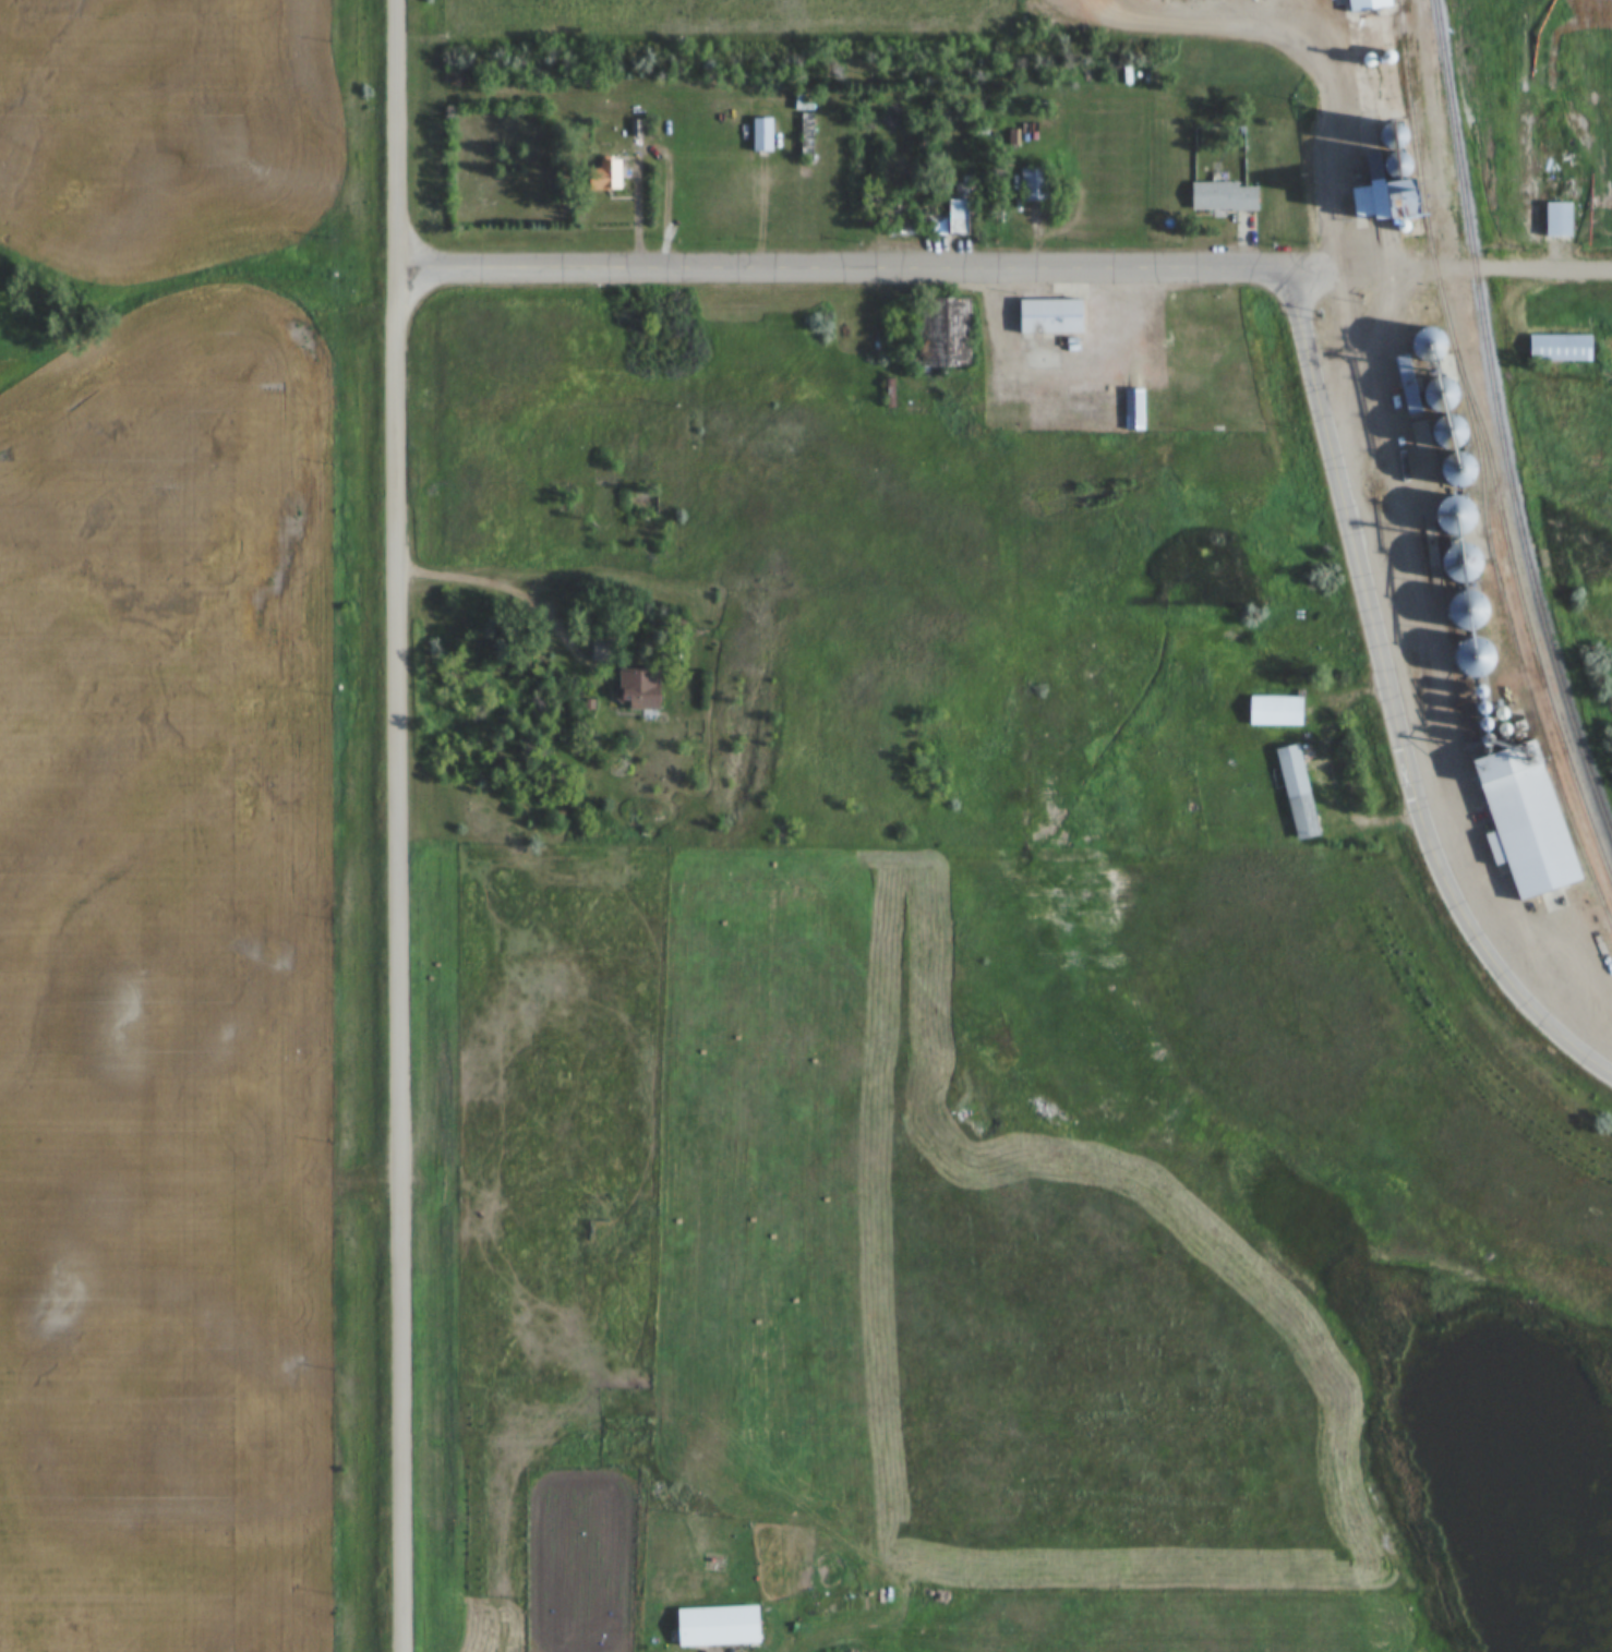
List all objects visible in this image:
building: (1367, 5)
road: (1211, 25)
road: (1318, 26)
building: (806, 131)
building: (981, 131)
building: (762, 134)
road: (1335, 160)
building: (609, 176)
building: (1035, 185)
building: (963, 190)
building: (1225, 196)
building: (1371, 201)
building: (1412, 203)
building: (959, 216)
building: (1559, 219)
building: (900, 220)
road: (843, 269)
road: (1451, 269)
building: (1050, 316)
building: (951, 322)
railway: (1447, 322)
building: (1561, 348)
road: (1063, 377)
building: (888, 394)
building: (1134, 409)
railway: (1500, 411)
building: (1465, 468)
building: (1507, 551)
building: (1466, 563)
road: (500, 589)
building: (639, 689)
road: (1392, 701)
building: (1276, 710)
road: (1328, 771)
building: (1298, 792)
road: (398, 825)
building: (1529, 833)
building: (718, 1626)

